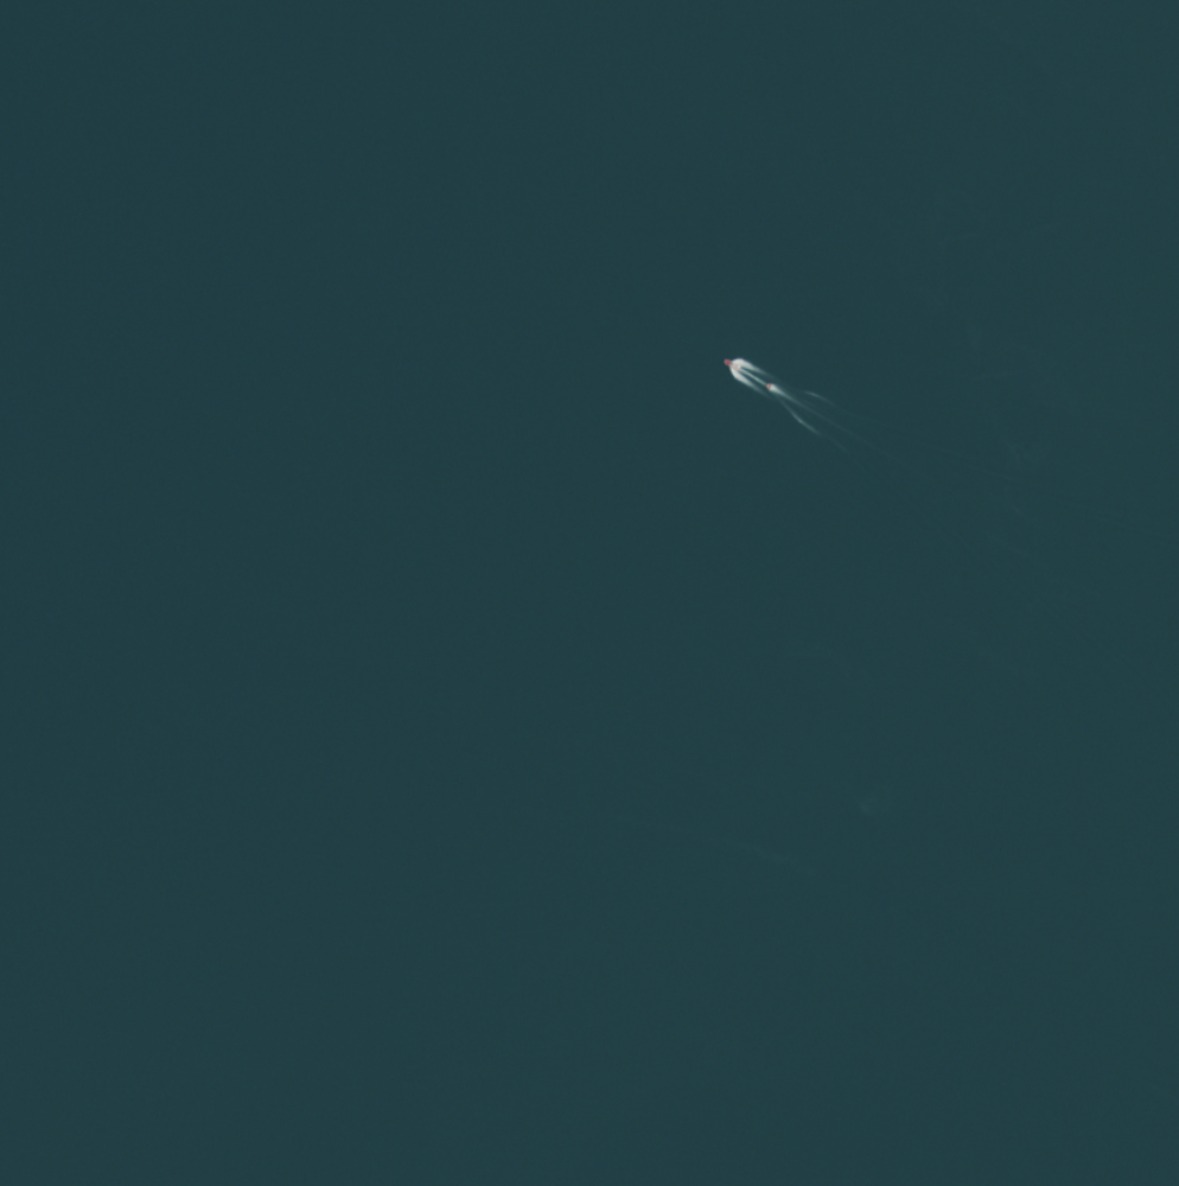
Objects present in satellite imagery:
river: (394, 904)

